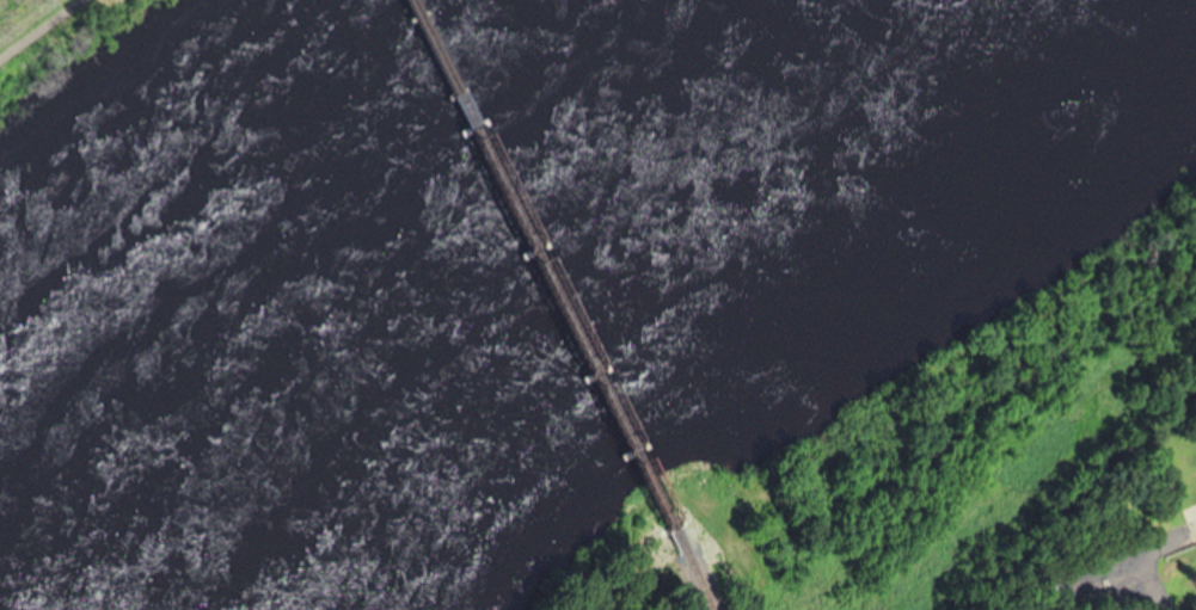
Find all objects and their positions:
road: (37, 27)
river: (413, 258)
railway: (530, 272)
railway: (686, 577)

